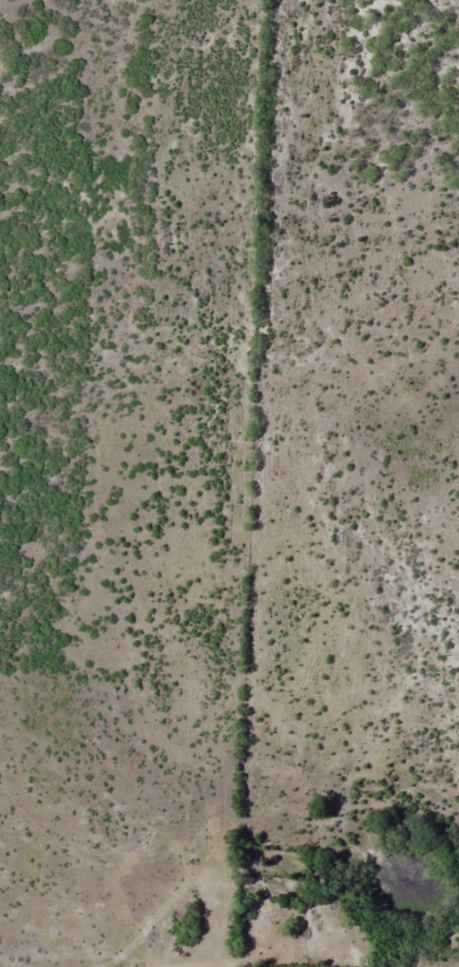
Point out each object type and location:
road: (216, 924)

